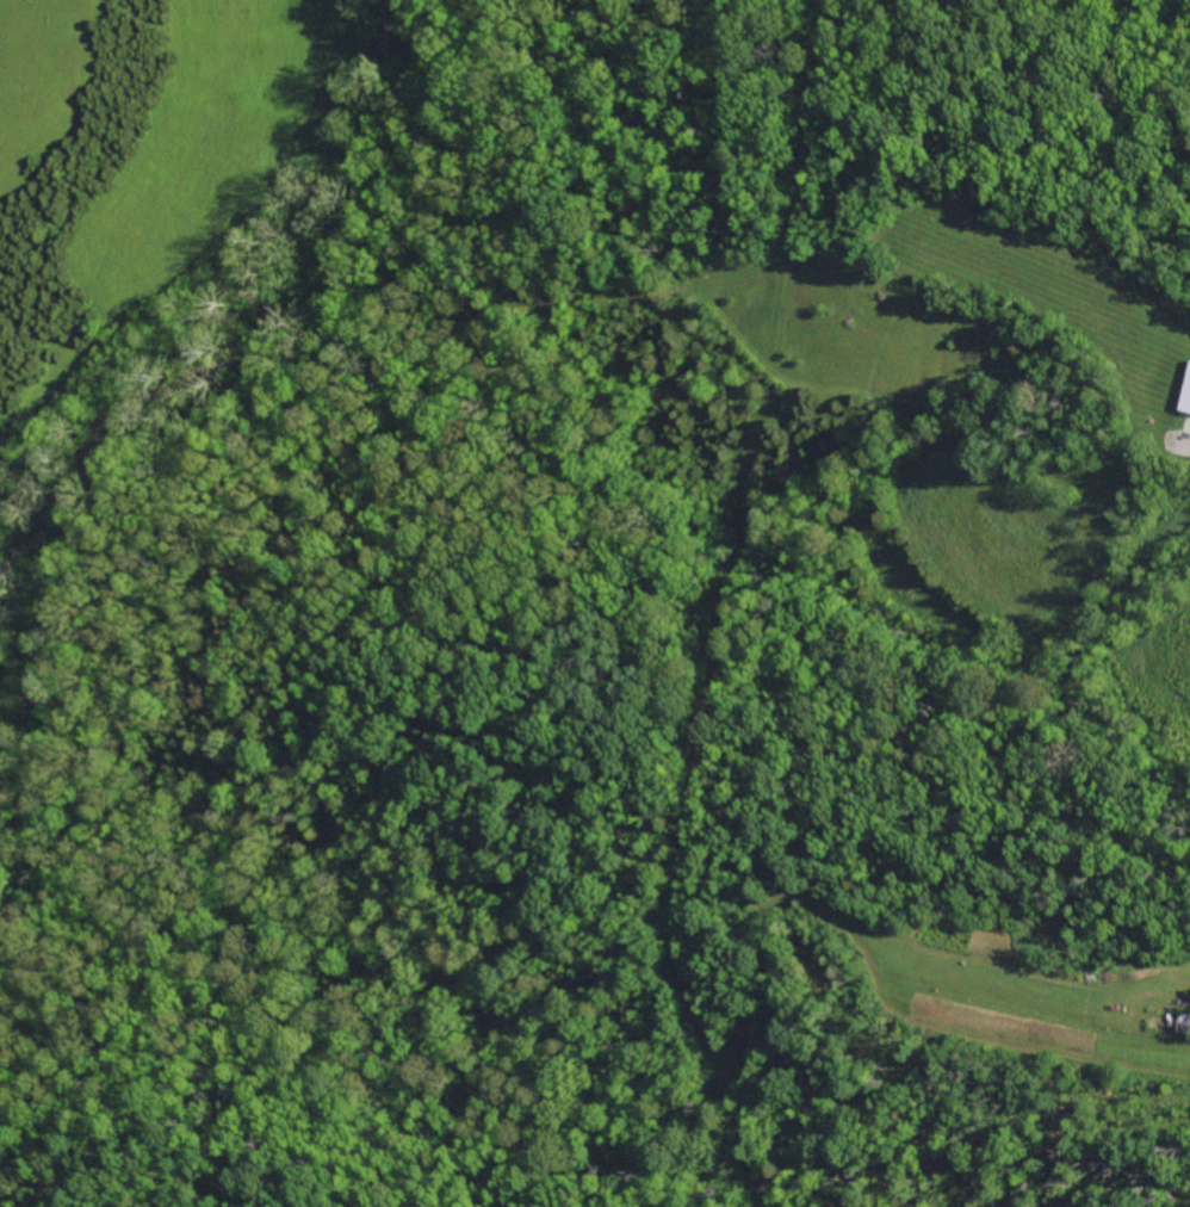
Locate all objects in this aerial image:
building: (1186, 400)

